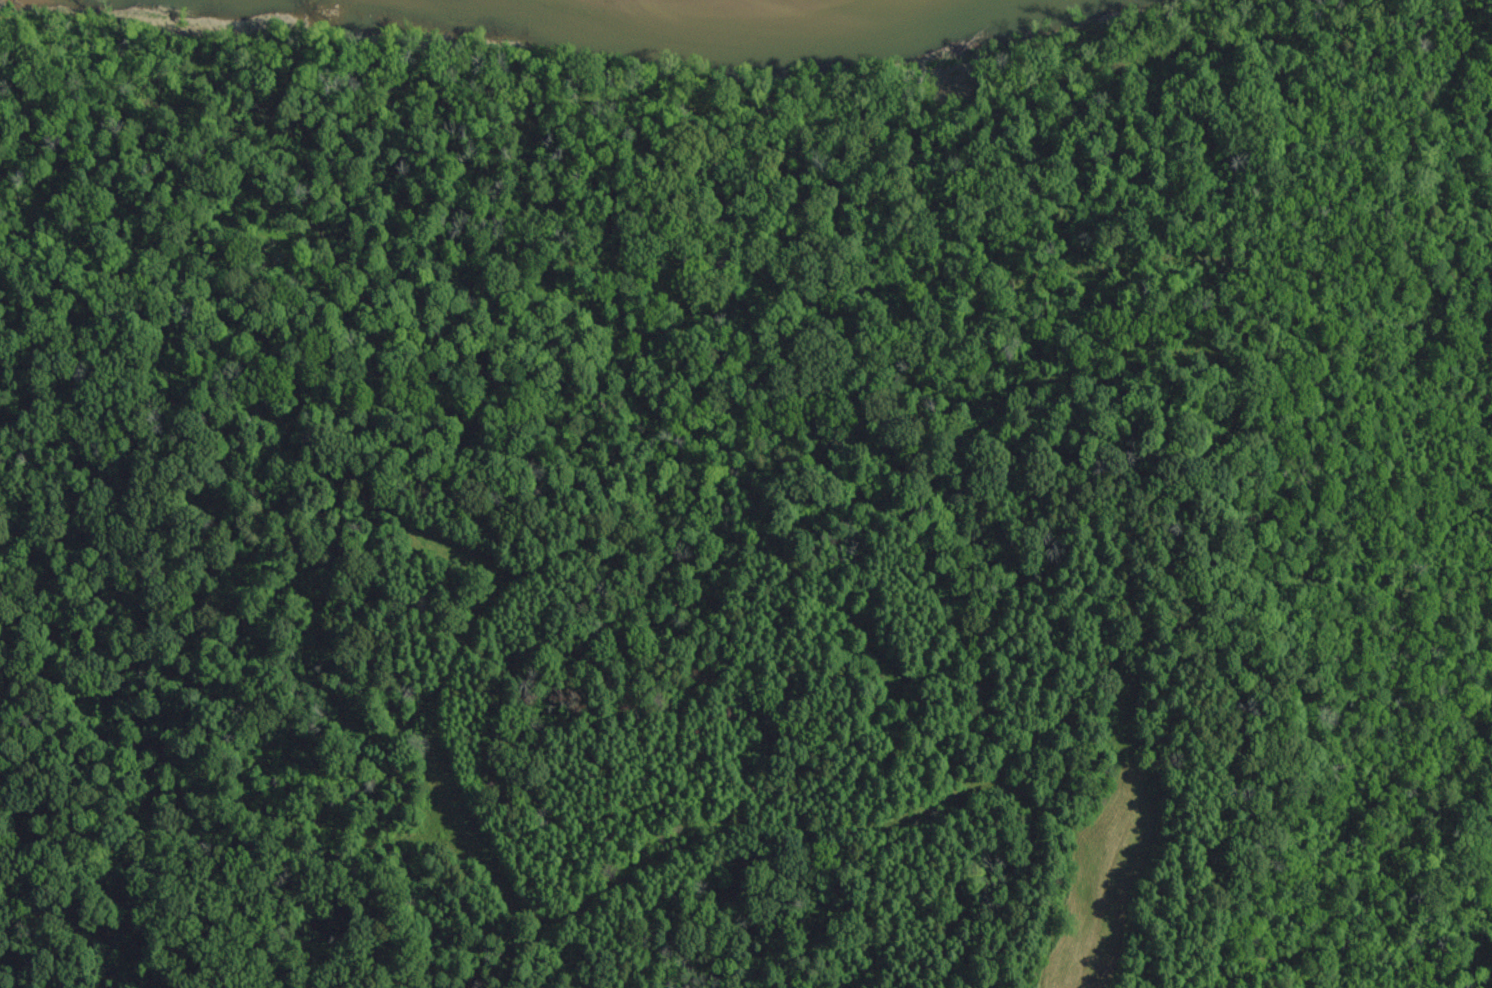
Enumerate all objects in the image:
river: (786, 13)

